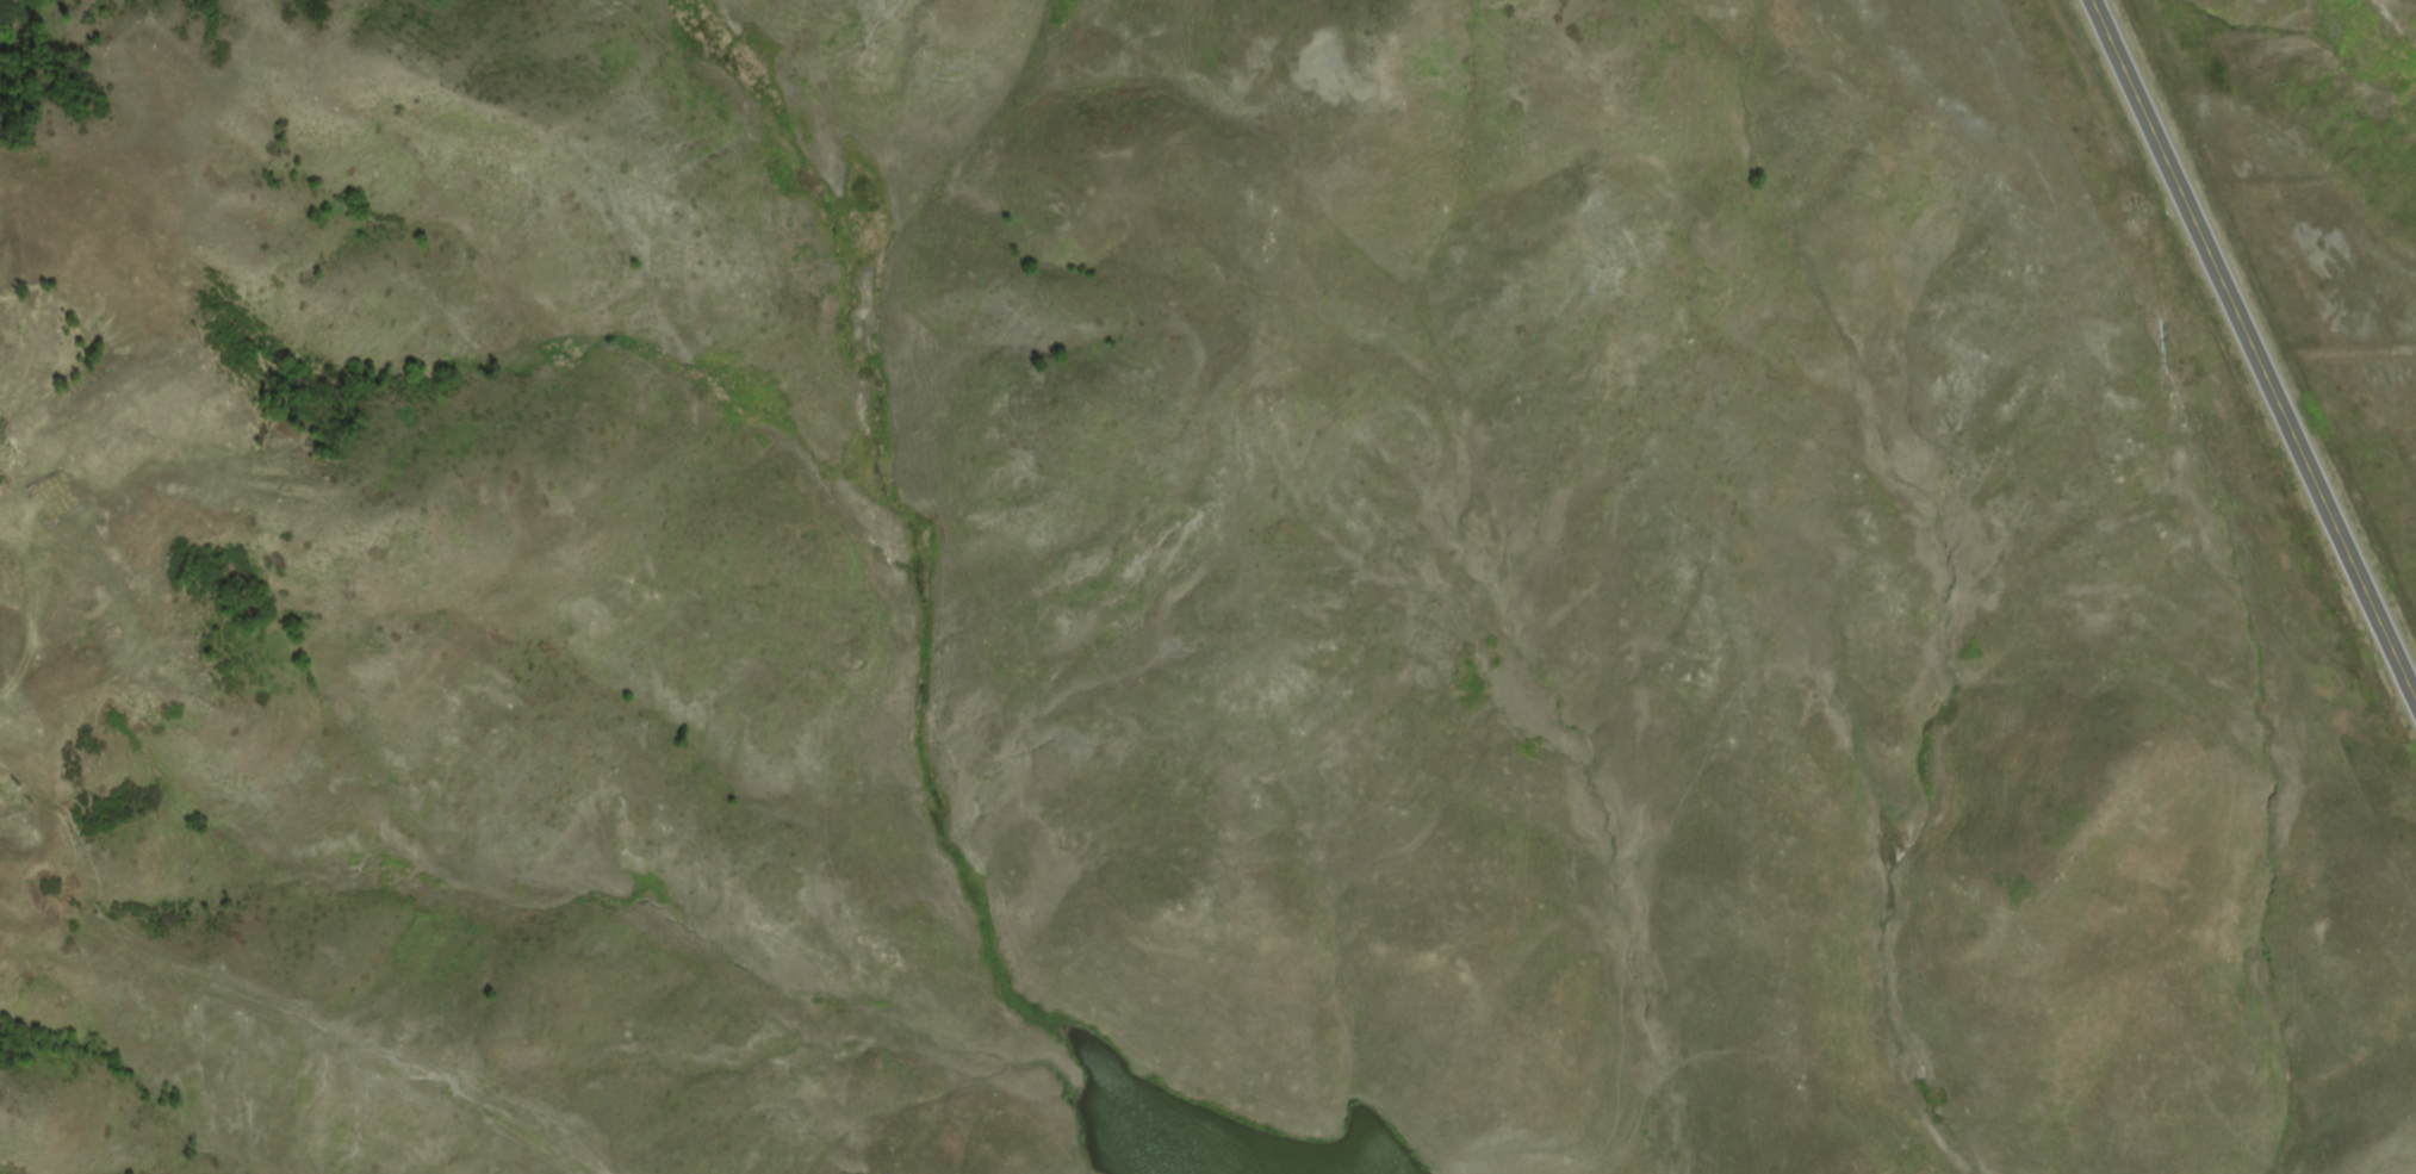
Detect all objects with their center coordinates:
road: (2255, 342)

